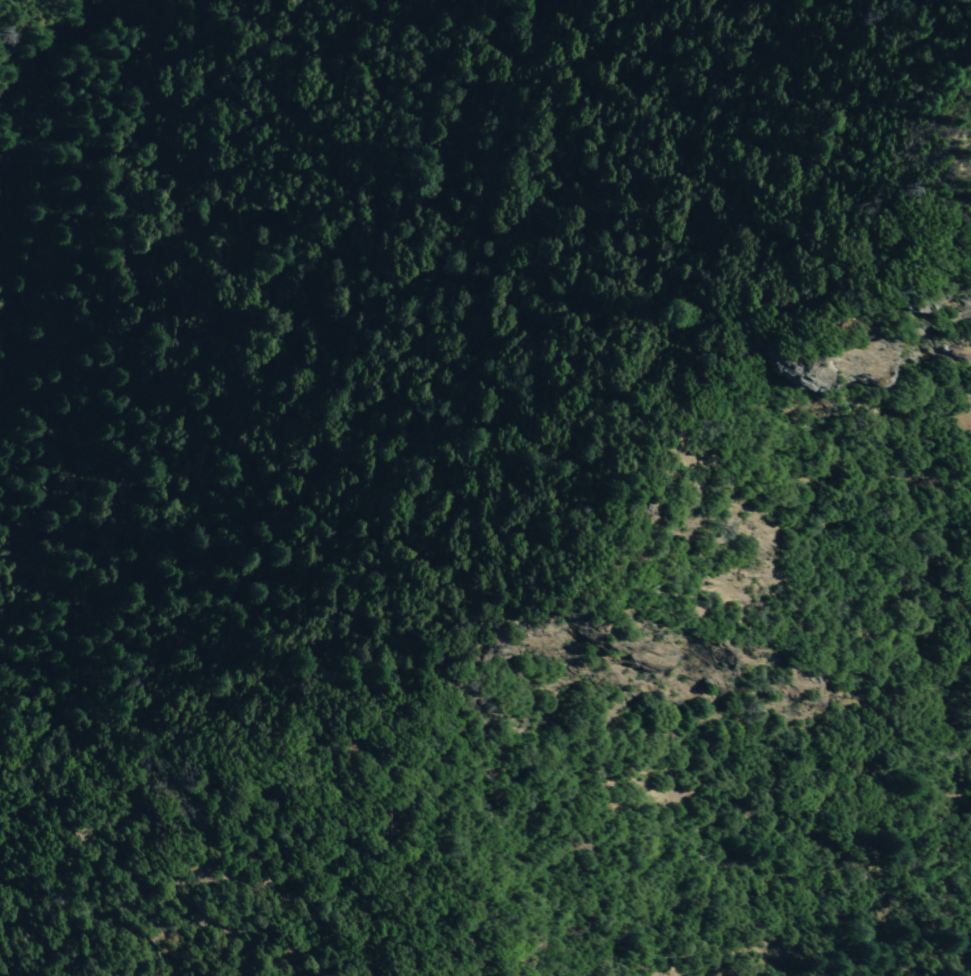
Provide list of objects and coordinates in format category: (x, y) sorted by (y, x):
road: (5, 5)
park: (448, 81)
park: (215, 134)
park: (673, 488)
road: (951, 973)

